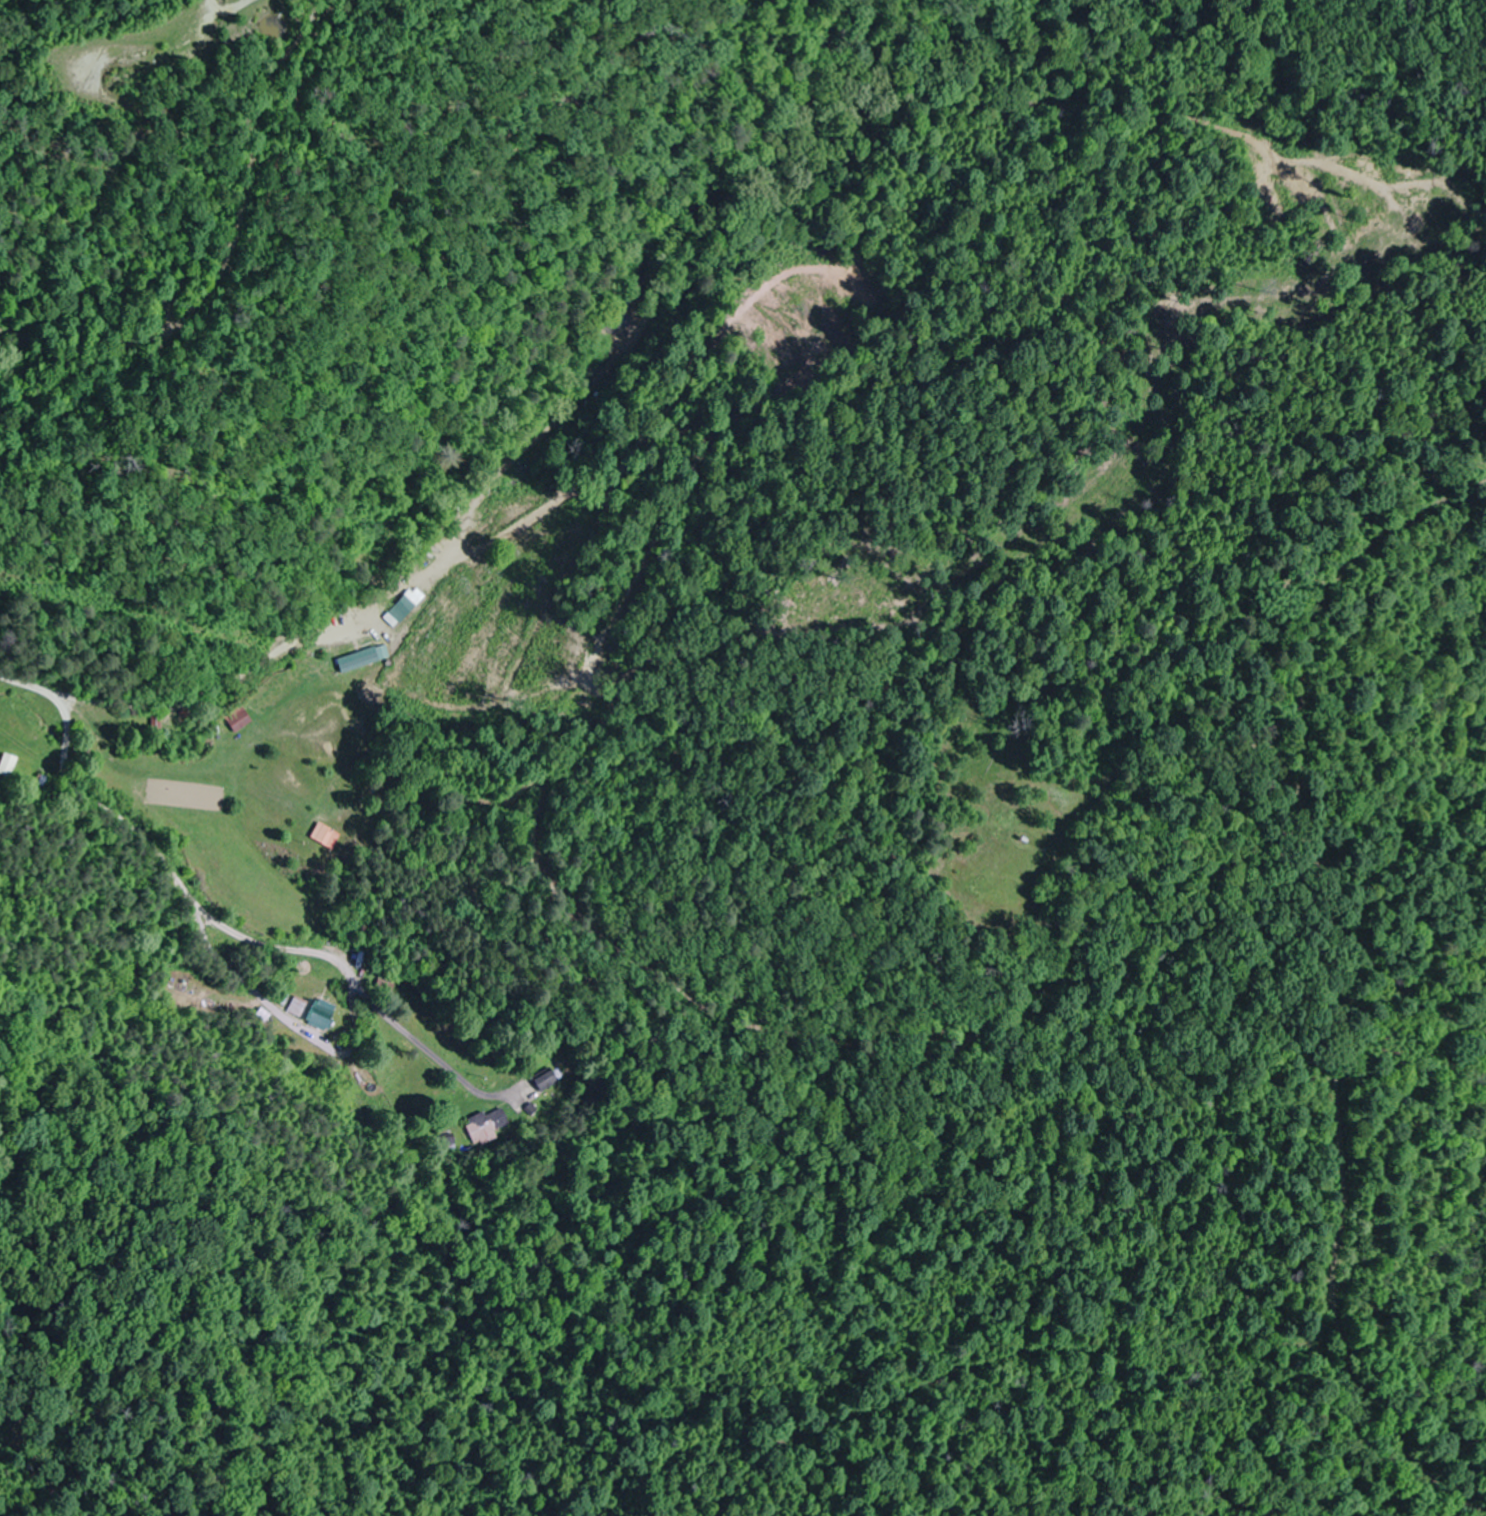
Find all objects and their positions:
building: (384, 625)
building: (324, 834)
road: (216, 920)
building: (544, 1079)

